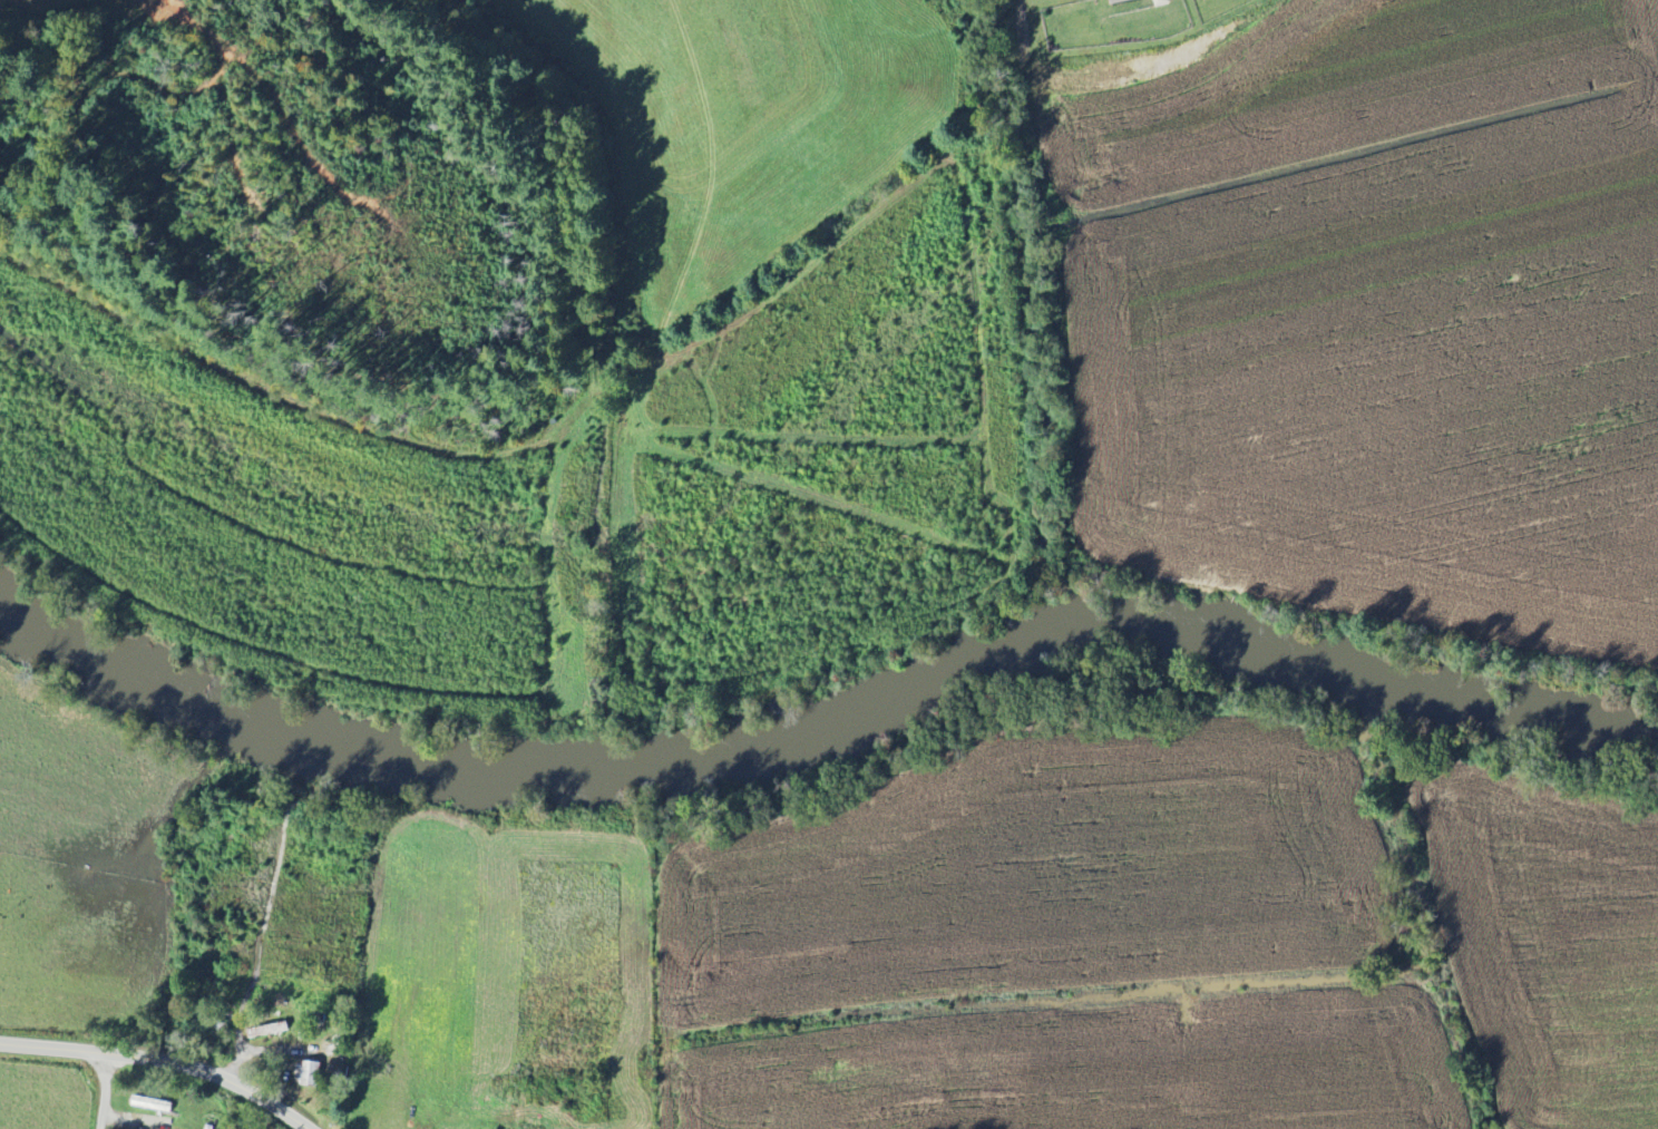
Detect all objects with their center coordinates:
building: (1120, 1)
river: (1237, 641)
river: (1531, 703)
river: (527, 767)
building: (266, 1030)
road: (259, 1049)
road: (162, 1059)
building: (308, 1073)
road: (104, 1090)

